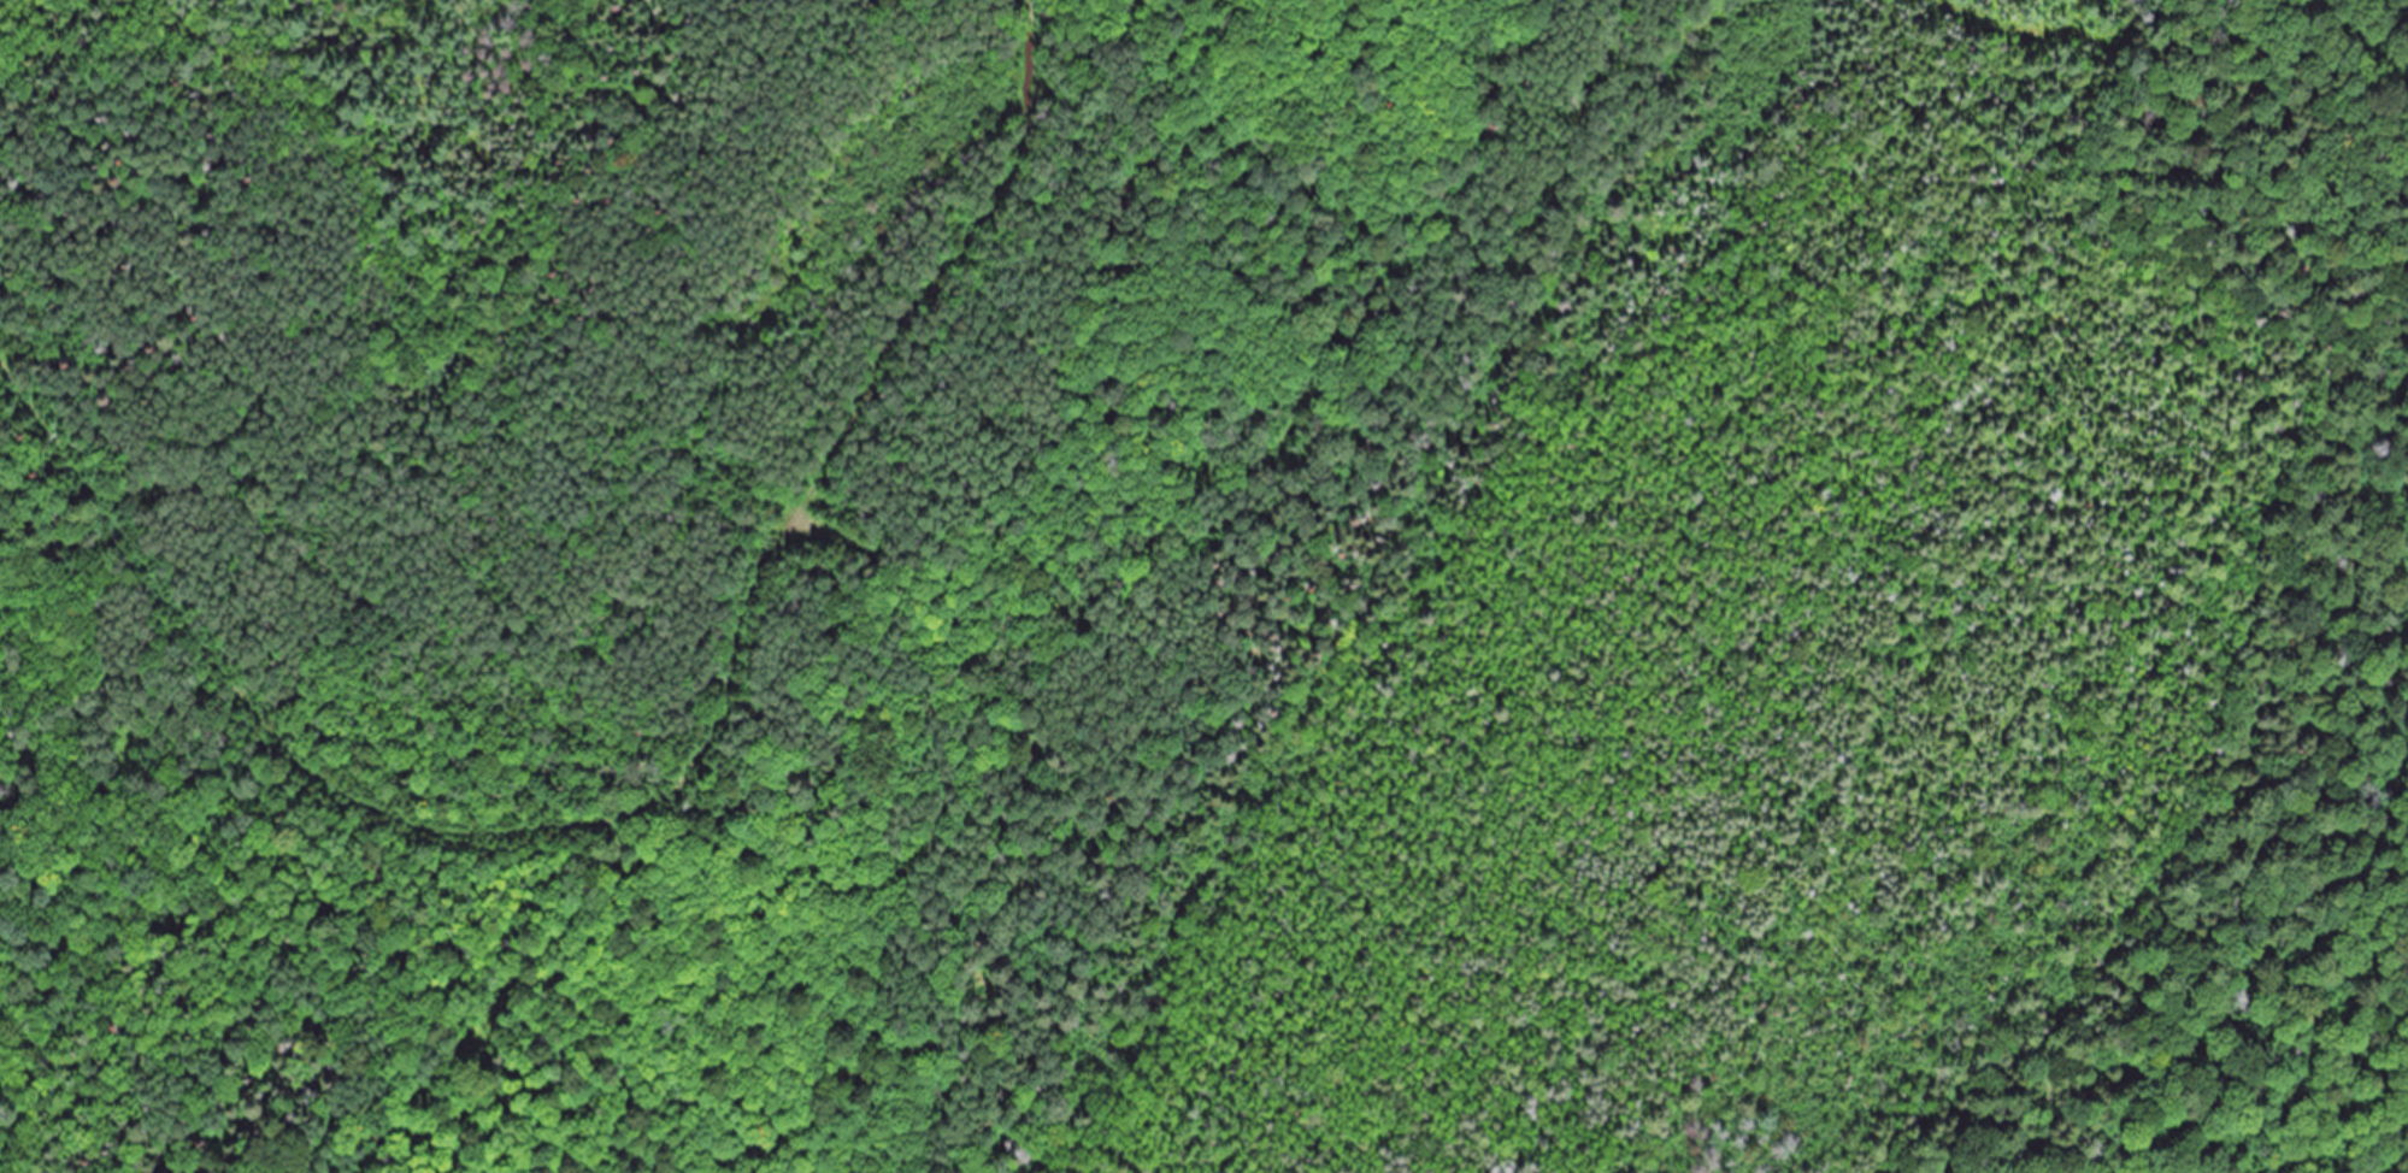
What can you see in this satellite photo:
road: (676, 790)

